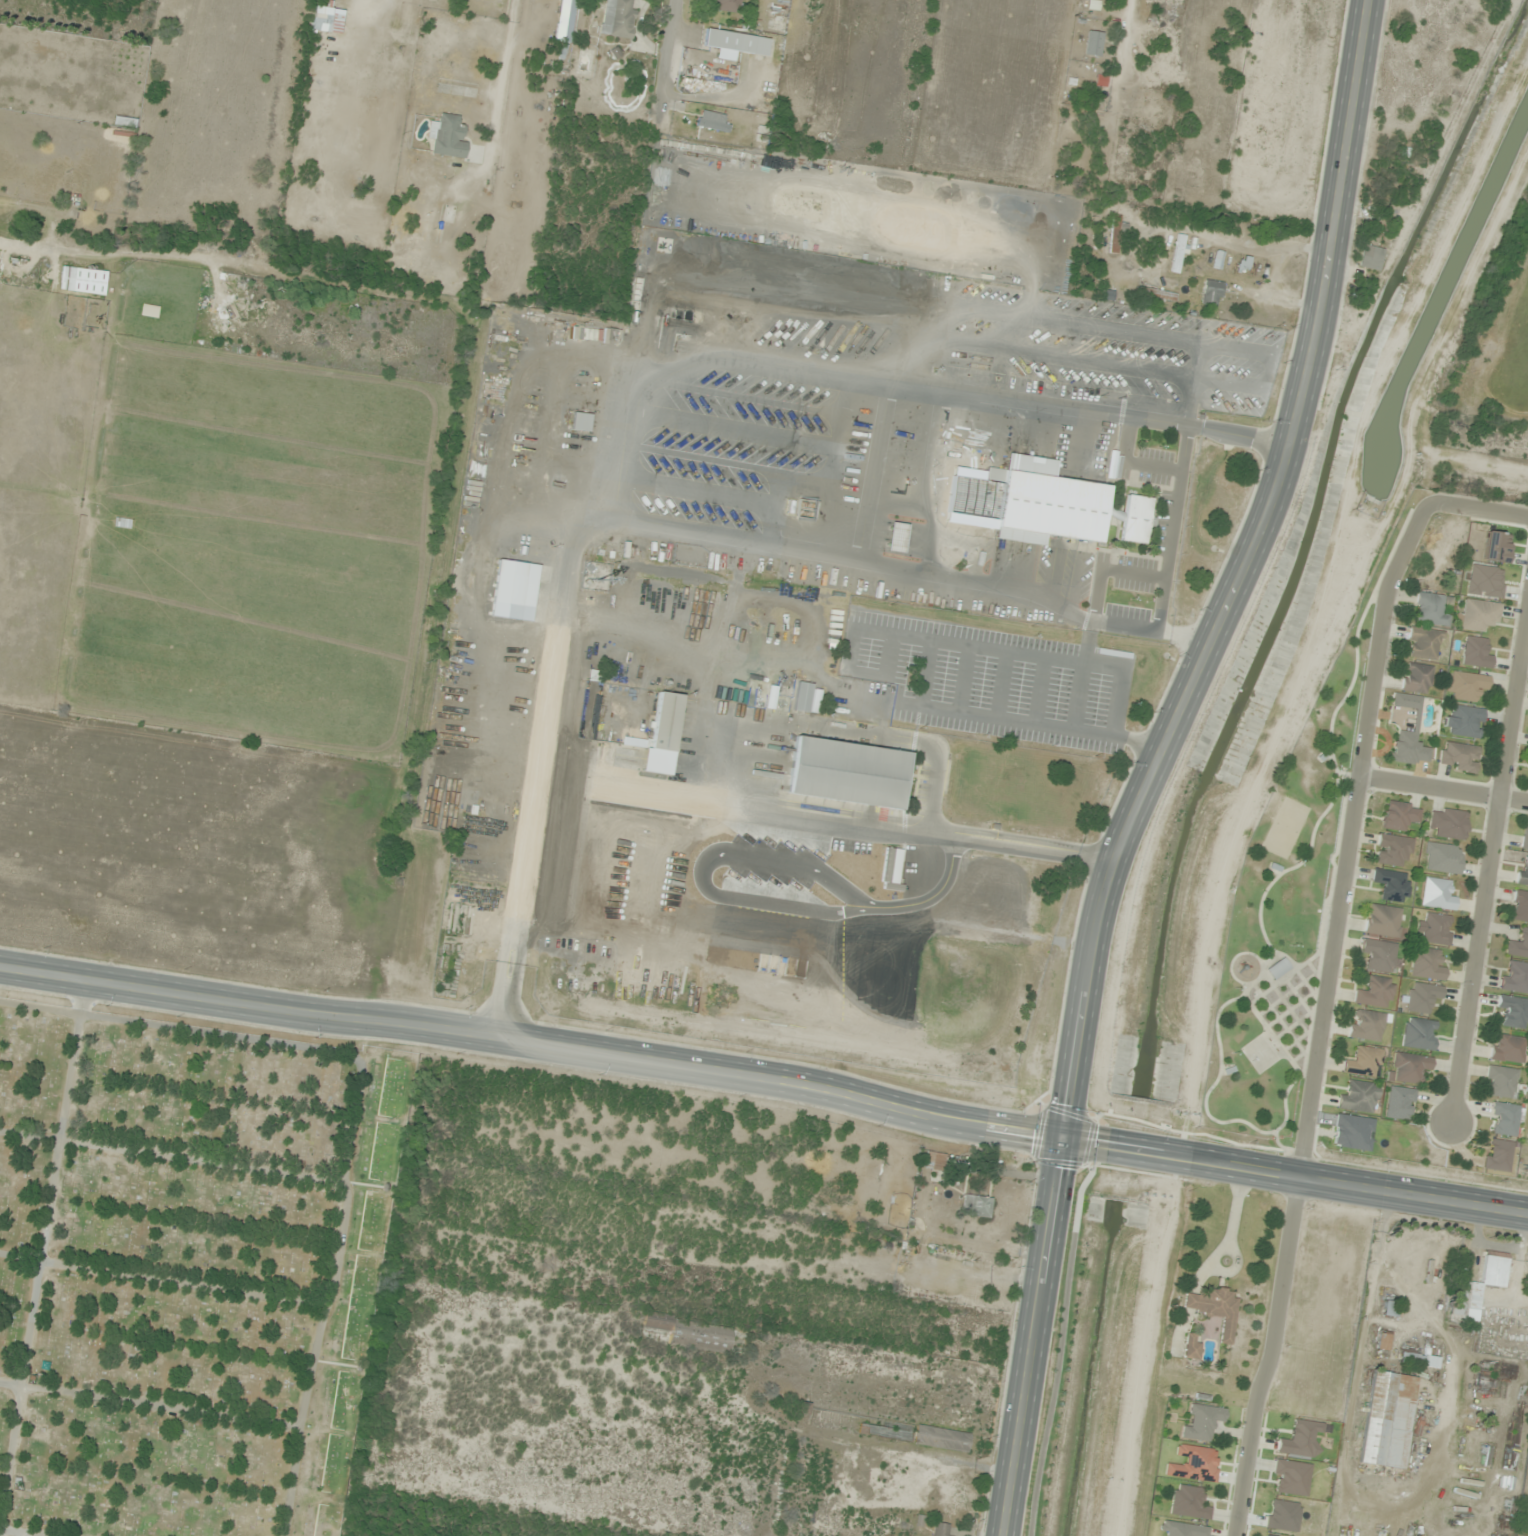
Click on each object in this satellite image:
building: (725, 5)
building: (618, 18)
building: (327, 20)
building: (736, 42)
building: (1093, 43)
road: (1154, 46)
road: (669, 57)
road: (1283, 87)
building: (714, 121)
building: (454, 140)
building: (68, 190)
building: (83, 192)
building: (15, 200)
building: (1114, 234)
building: (1178, 254)
building: (1371, 257)
building: (1217, 260)
building: (1242, 265)
building: (84, 280)
building: (1212, 292)
building: (1108, 294)
building: (1157, 294)
building: (638, 305)
building: (581, 422)
road: (1216, 431)
building: (1042, 503)
road: (1481, 509)
building: (1136, 519)
building: (897, 537)
building: (1496, 547)
building: (1430, 609)
building: (1477, 614)
road: (1357, 639)
building: (1425, 643)
building: (1476, 652)
building: (1417, 678)
building: (1466, 685)
building: (802, 697)
building: (1465, 721)
building: (661, 729)
road: (828, 734)
building: (1409, 735)
building: (1459, 757)
road: (1155, 759)
building: (848, 773)
road: (1347, 774)
road: (1444, 790)
building: (1400, 815)
road: (823, 823)
building: (1448, 823)
building: (1525, 836)
building: (1394, 849)
building: (1443, 858)
road: (522, 862)
building: (892, 869)
building: (1523, 871)
road: (701, 873)
road: (1490, 873)
building: (1393, 885)
building: (1438, 894)
road: (930, 900)
building: (1520, 906)
building: (1383, 920)
park: (1279, 923)
building: (1437, 928)
building: (1518, 944)
building: (1379, 955)
building: (1428, 964)
building: (1277, 968)
building: (1515, 976)
building: (1375, 992)
building: (1422, 996)
building: (1513, 1011)
road: (1324, 1015)
building: (1367, 1025)
building: (1419, 1033)
road: (533, 1042)
building: (1508, 1048)
building: (1364, 1062)
building: (1410, 1067)
building: (1501, 1081)
building: (1359, 1097)
road: (1206, 1103)
building: (1400, 1103)
building: (1504, 1119)
traffic signals: (1062, 1141)
building: (1498, 1155)
building: (932, 1161)
road: (1295, 1176)
building: (977, 1206)
building: (1494, 1269)
park: (187, 1270)
building: (1462, 1302)
building: (1390, 1308)
building: (1215, 1309)
building: (691, 1333)
building: (1384, 1340)
building: (1191, 1346)
building: (1418, 1360)
building: (1387, 1420)
building: (1203, 1422)
building: (941, 1438)
building: (1301, 1439)
building: (1195, 1464)
building: (1290, 1478)
building: (1188, 1502)
building: (823, 1524)
building: (940, 1529)
building: (1183, 1529)

